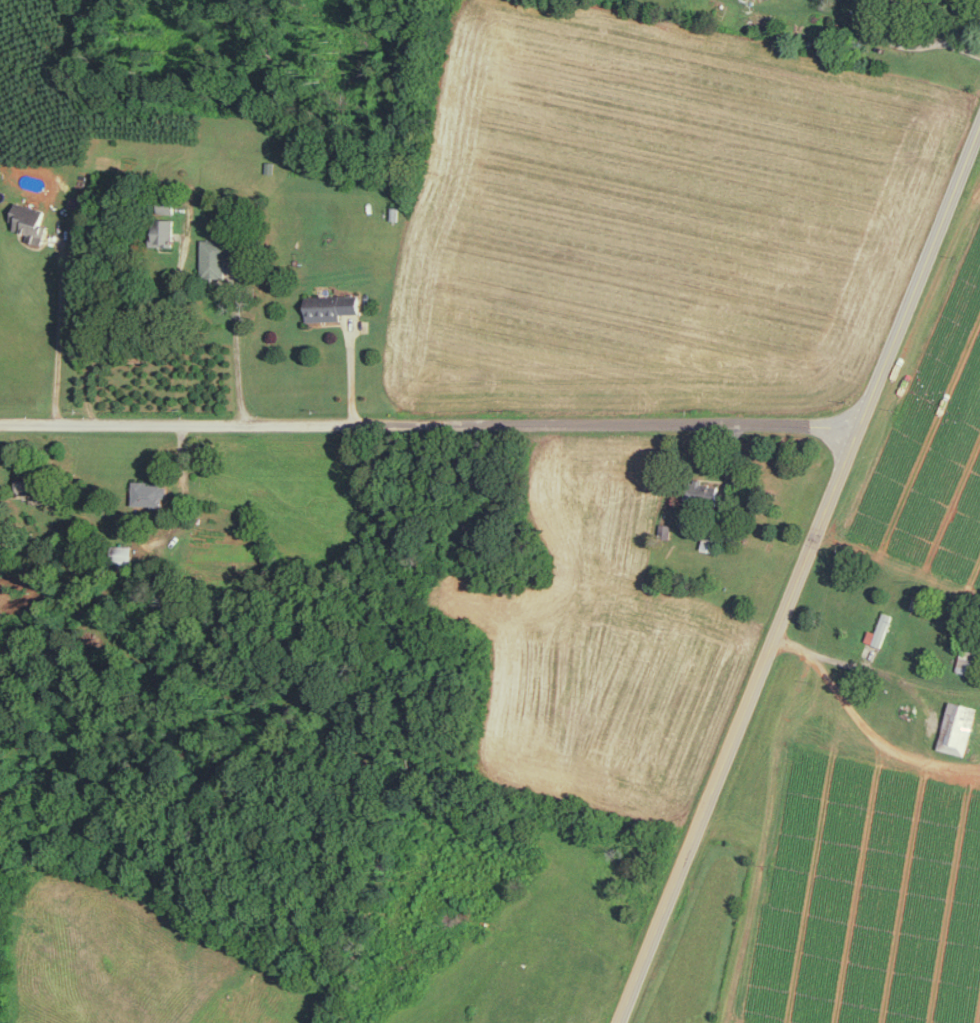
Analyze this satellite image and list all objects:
building: (870, 9)
road: (888, 31)
road: (962, 46)
crop: (41, 82)
crop: (659, 218)
building: (31, 220)
building: (166, 231)
building: (219, 255)
building: (335, 307)
road: (60, 329)
road: (237, 343)
road: (158, 353)
road: (351, 372)
crop: (929, 422)
road: (608, 424)
road: (176, 425)
building: (28, 482)
building: (151, 493)
building: (712, 542)
building: (124, 556)
road: (800, 576)
building: (880, 630)
crop: (603, 648)
building: (969, 664)
building: (960, 727)
road: (932, 728)
road: (949, 765)
crop: (136, 962)

